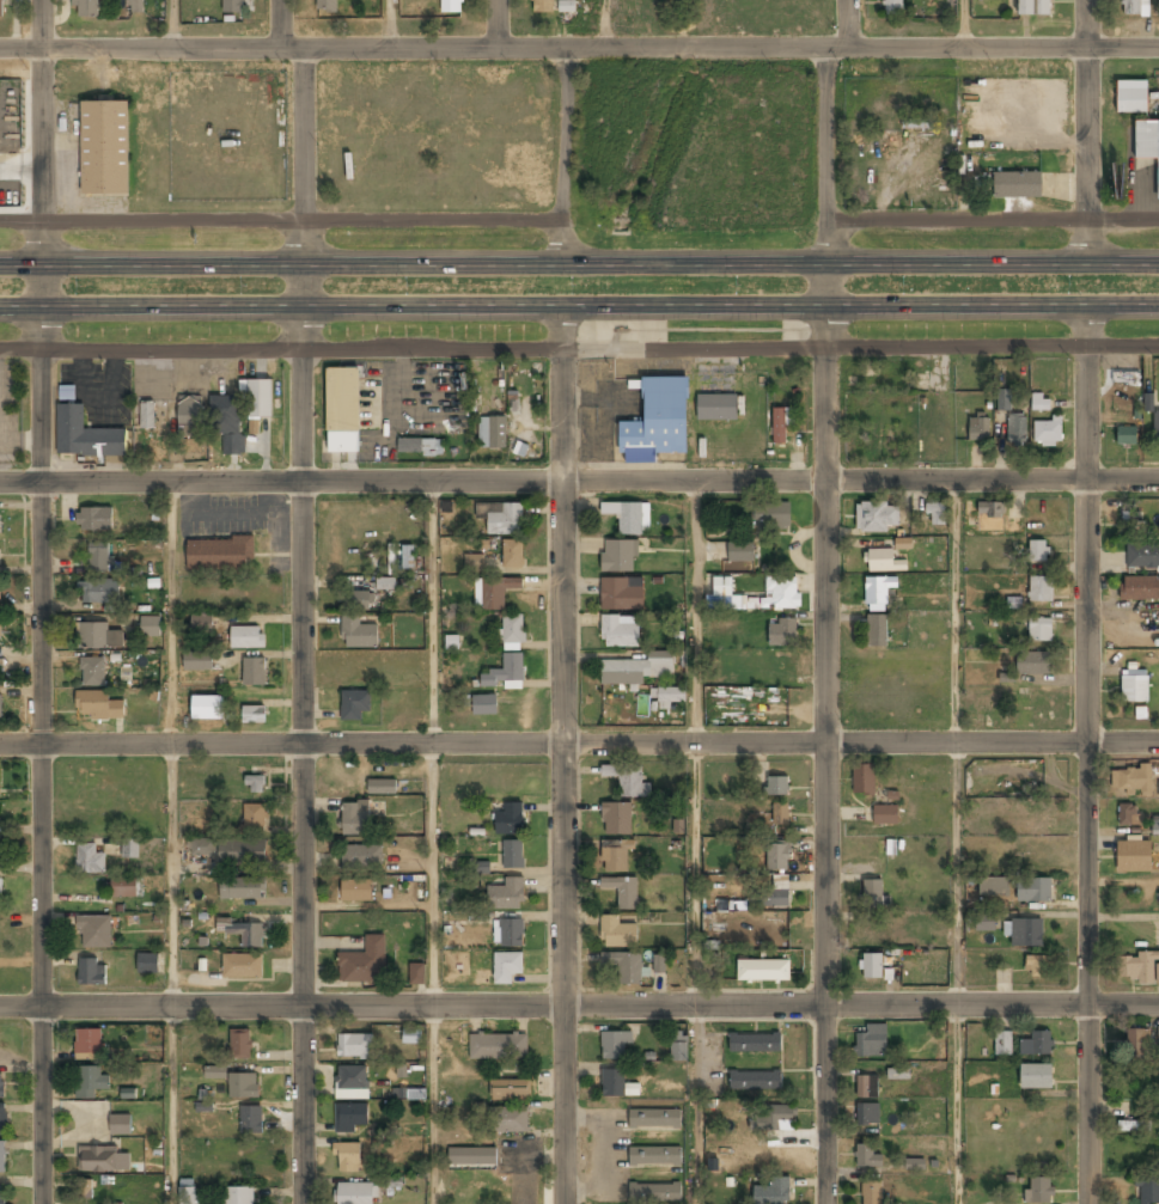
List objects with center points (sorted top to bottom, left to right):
building: (135, 6)
building: (327, 6)
building: (451, 6)
building: (544, 6)
building: (232, 7)
building: (892, 7)
building: (1, 8)
building: (85, 8)
building: (1033, 8)
building: (1134, 8)
road: (846, 24)
road: (963, 24)
road: (173, 25)
road: (280, 25)
road: (390, 25)
road: (494, 25)
road: (605, 25)
road: (992, 49)
road: (140, 50)
road: (292, 50)
road: (563, 50)
building: (1131, 98)
building: (915, 124)
road: (1087, 133)
building: (1147, 143)
building: (104, 148)
road: (562, 158)
building: (1017, 185)
road: (277, 220)
road: (993, 220)
road: (579, 267)
road: (579, 306)
road: (579, 349)
building: (1126, 378)
building: (258, 398)
building: (1004, 403)
building: (1039, 403)
building: (718, 408)
building: (342, 410)
building: (189, 414)
building: (146, 416)
building: (657, 421)
building: (227, 423)
building: (780, 426)
building: (1155, 426)
building: (1015, 428)
building: (980, 429)
building: (492, 433)
building: (1047, 433)
building: (85, 435)
building: (1126, 436)
building: (420, 447)
road: (579, 481)
building: (989, 514)
building: (935, 515)
building: (626, 517)
building: (773, 517)
building: (877, 518)
building: (1126, 518)
building: (501, 519)
building: (94, 520)
building: (903, 543)
building: (1038, 550)
building: (740, 552)
building: (220, 555)
building: (512, 555)
building: (1142, 555)
building: (618, 557)
building: (98, 558)
building: (408, 558)
building: (882, 562)
building: (474, 563)
building: (385, 582)
building: (1039, 589)
building: (1137, 591)
building: (493, 592)
building: (877, 592)
building: (98, 593)
building: (622, 594)
building: (724, 594)
building: (781, 594)
road: (39, 601)
building: (356, 601)
building: (1013, 603)
road: (957, 611)
road: (433, 612)
road: (696, 612)
road: (171, 613)
building: (201, 623)
road: (825, 625)
road: (300, 627)
building: (151, 628)
building: (511, 630)
building: (1039, 630)
building: (877, 631)
building: (620, 632)
building: (781, 634)
building: (360, 636)
building: (97, 637)
building: (246, 638)
building: (203, 662)
building: (1032, 665)
building: (640, 670)
building: (92, 672)
building: (254, 672)
building: (505, 673)
building: (1134, 689)
building: (671, 697)
building: (355, 704)
building: (98, 705)
building: (199, 705)
building: (484, 705)
building: (0, 708)
building: (254, 715)
road: (579, 744)
road: (561, 754)
road: (1087, 754)
building: (627, 780)
building: (864, 781)
building: (1133, 781)
building: (255, 784)
building: (382, 786)
building: (776, 787)
building: (1158, 788)
building: (780, 814)
building: (885, 814)
building: (1033, 817)
building: (254, 819)
building: (355, 819)
building: (508, 819)
building: (616, 820)
building: (1135, 821)
road: (433, 826)
building: (202, 847)
building: (130, 848)
building: (886, 848)
building: (243, 851)
building: (512, 854)
building: (616, 856)
building: (361, 857)
building: (777, 857)
building: (1134, 857)
building: (90, 860)
building: (478, 867)
road: (695, 874)
road: (957, 874)
road: (171, 875)
building: (126, 887)
building: (993, 887)
building: (242, 890)
building: (356, 891)
building: (1033, 891)
building: (622, 892)
building: (0, 893)
building: (506, 896)
building: (873, 896)
building: (774, 899)
road: (367, 907)
building: (984, 923)
building: (96, 933)
building: (1024, 933)
building: (246, 934)
building: (508, 934)
building: (616, 934)
road: (432, 955)
building: (364, 962)
building: (659, 962)
building: (147, 964)
building: (242, 966)
building: (506, 966)
building: (1037, 966)
building: (626, 967)
building: (871, 967)
building: (1140, 970)
building: (92, 971)
building: (763, 971)
building: (416, 974)
building: (1002, 977)
road: (579, 1004)
building: (1158, 1035)
building: (411, 1037)
building: (872, 1041)
building: (240, 1043)
building: (755, 1043)
building: (87, 1044)
building: (1002, 1044)
building: (1037, 1044)
building: (1137, 1044)
building: (354, 1046)
building: (498, 1047)
building: (614, 1047)
building: (679, 1049)
building: (215, 1071)
building: (898, 1074)
building: (1035, 1077)
building: (755, 1080)
building: (89, 1081)
building: (350, 1082)
building: (616, 1084)
building: (243, 1086)
building: (1, 1087)
building: (866, 1087)
building: (510, 1090)
building: (409, 1095)
building: (203, 1100)
road: (432, 1104)
road: (171, 1105)
road: (695, 1105)
road: (957, 1105)
building: (779, 1116)
building: (867, 1116)
building: (349, 1118)
building: (654, 1119)
building: (2, 1120)
building: (508, 1120)
building: (251, 1122)
building: (120, 1124)
building: (1130, 1127)
building: (471, 1157)
building: (654, 1157)
building: (867, 1157)
building: (2, 1159)
building: (104, 1159)
building: (347, 1159)
building: (915, 1163)
building: (85, 1188)
building: (1147, 1190)
building: (1039, 1191)
building: (187, 1192)
building: (773, 1192)
building: (871, 1192)
building: (354, 1193)
building: (655, 1194)
building: (2, 1196)
building: (239, 1196)

